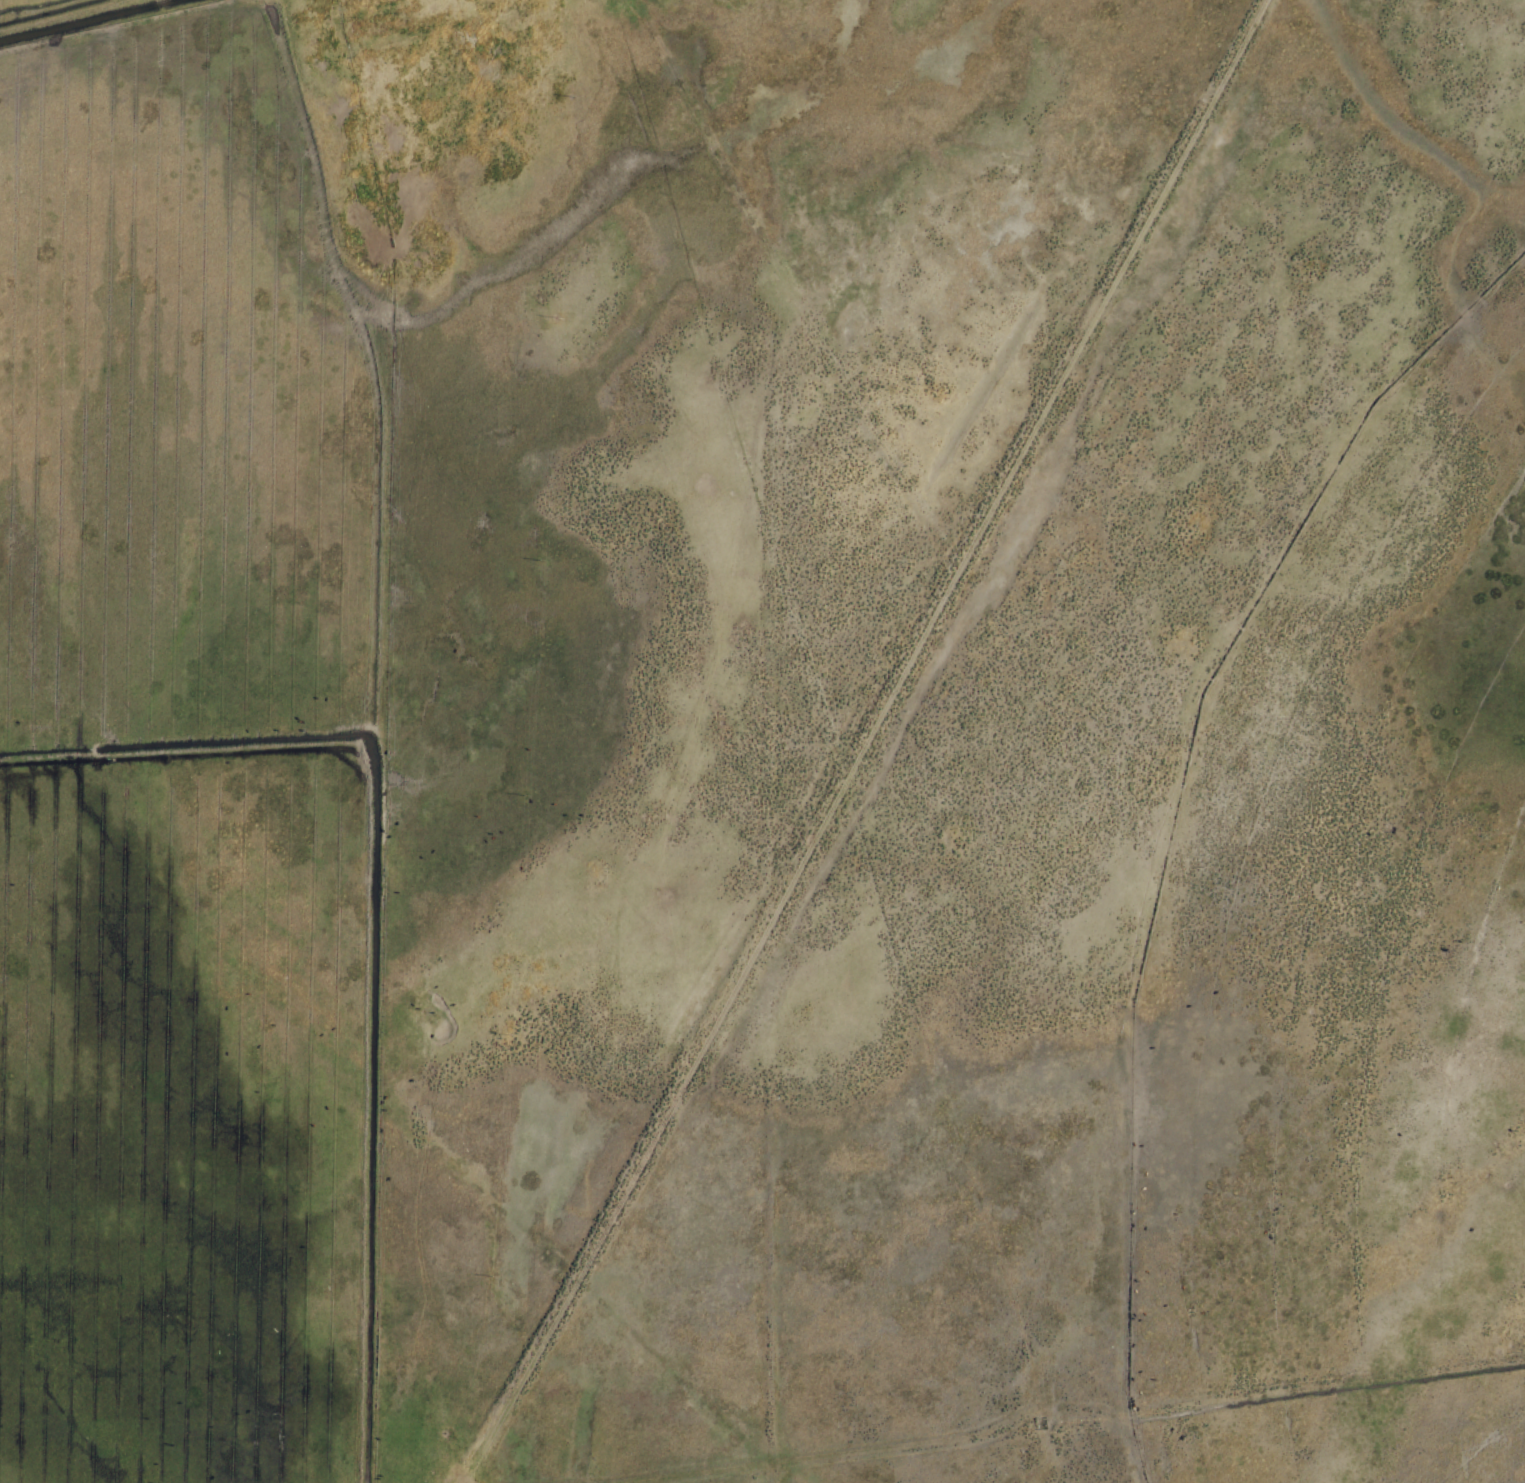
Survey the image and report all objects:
road: (852, 718)
crop: (178, 736)
crop: (940, 743)

